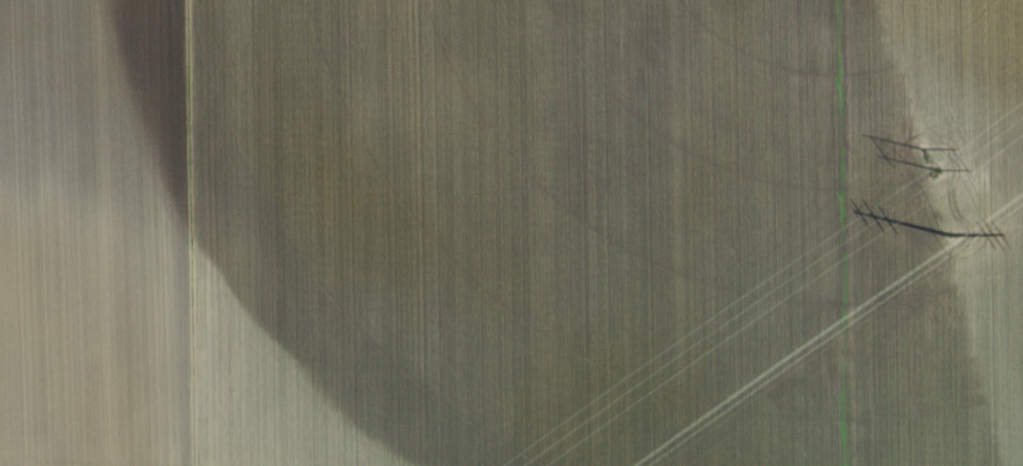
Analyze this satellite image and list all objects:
power tower: (927, 158)
power tower: (956, 225)

